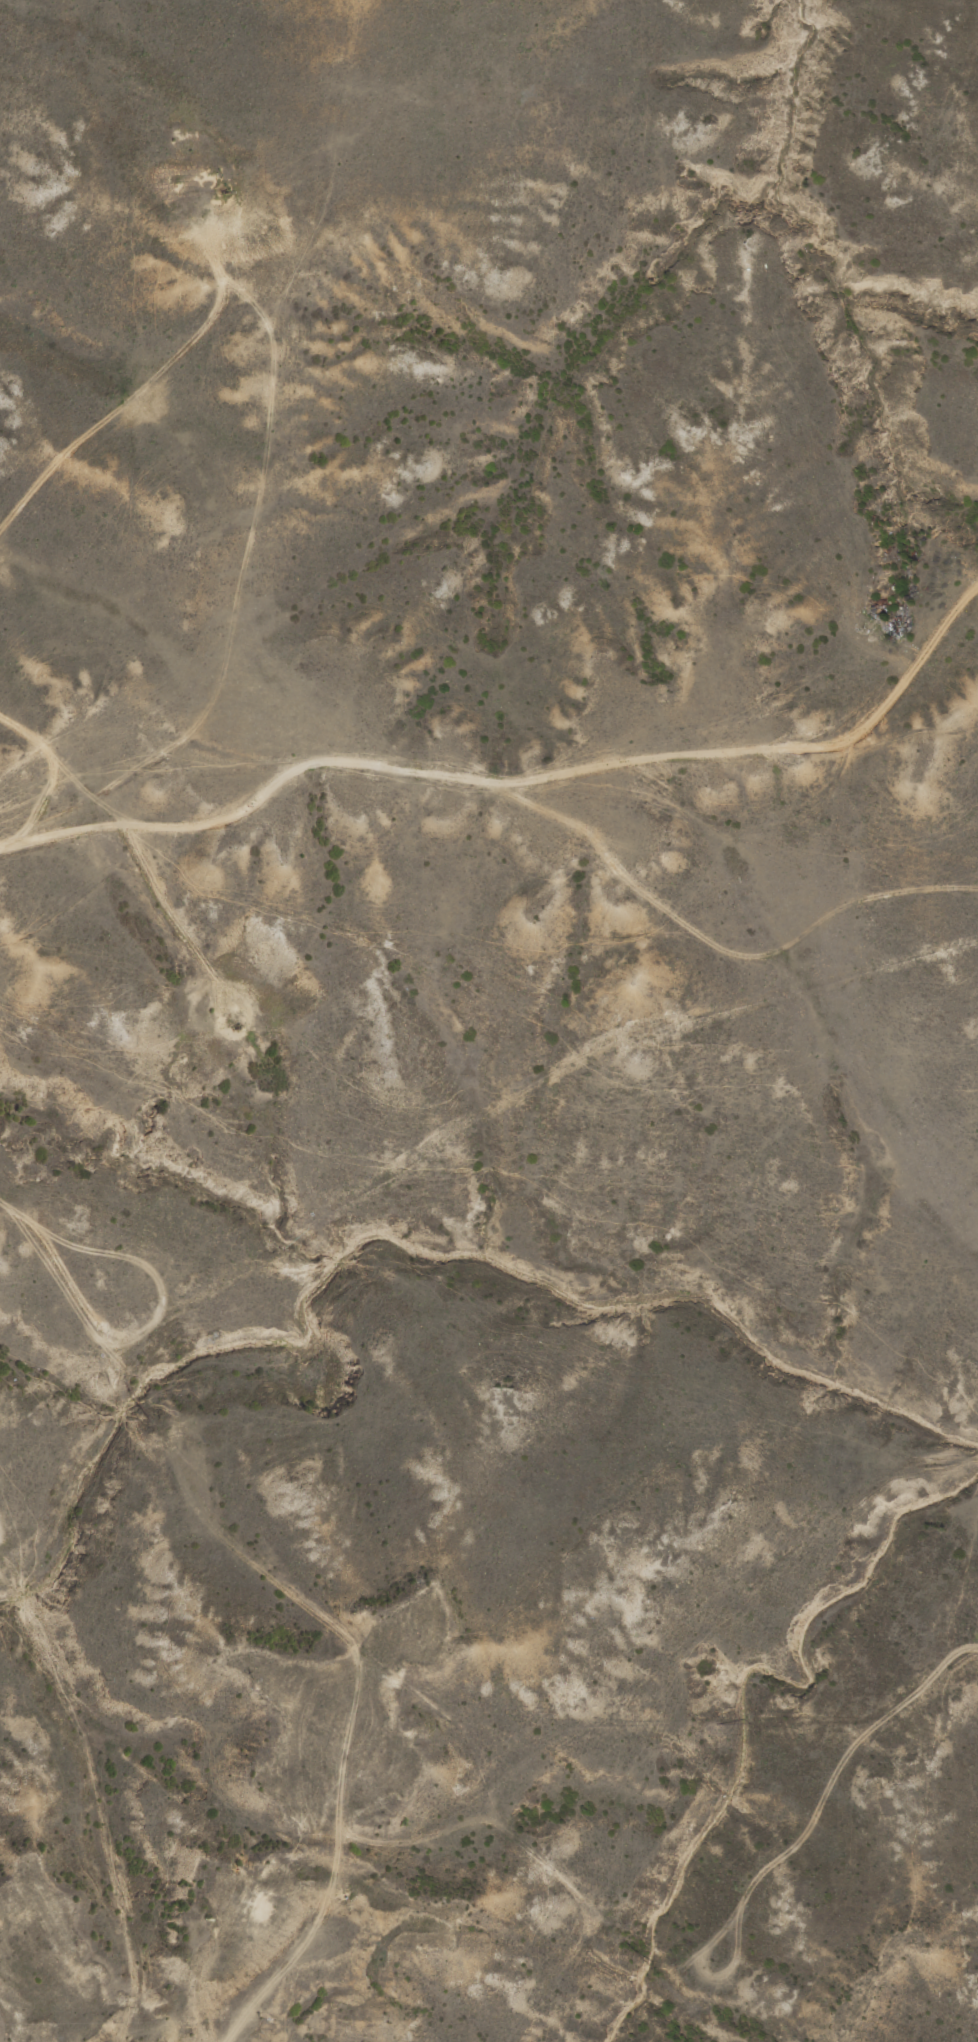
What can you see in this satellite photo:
road: (542, 755)

